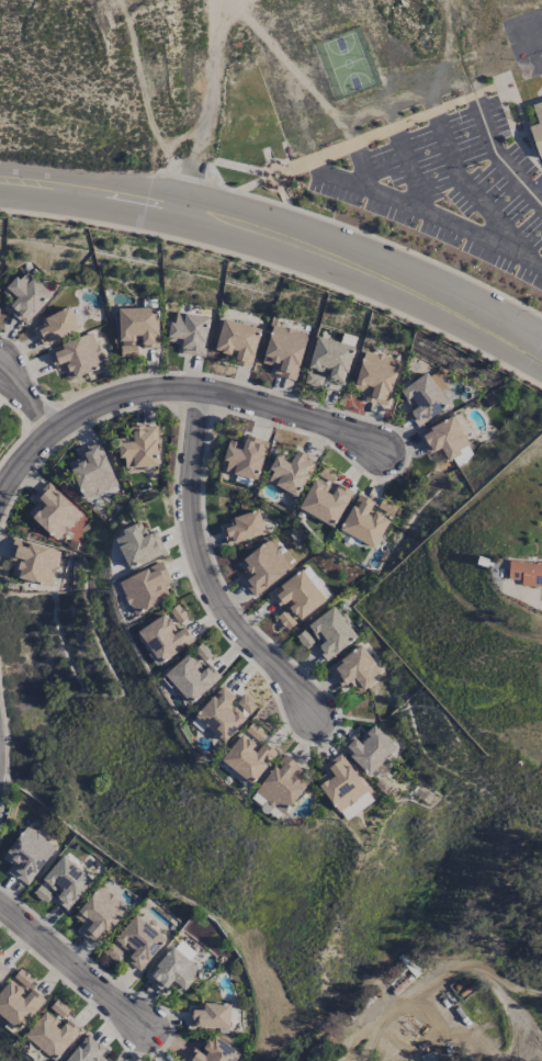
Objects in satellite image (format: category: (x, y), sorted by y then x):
road: (211, 105)
building: (538, 128)
road: (504, 161)
road: (413, 178)
road: (475, 197)
road: (437, 221)
road: (282, 236)
building: (26, 296)
building: (139, 325)
building: (57, 326)
building: (190, 334)
building: (238, 341)
building: (285, 351)
building: (77, 357)
building: (331, 359)
building: (376, 376)
building: (313, 380)
road: (174, 391)
road: (26, 395)
building: (424, 399)
building: (443, 440)
building: (140, 447)
building: (246, 456)
building: (92, 470)
building: (291, 473)
building: (326, 501)
building: (53, 510)
building: (364, 521)
building: (245, 527)
building: (139, 545)
building: (34, 562)
building: (264, 566)
road: (206, 572)
building: (526, 573)
building: (146, 588)
building: (298, 595)
road: (541, 605)
building: (178, 614)
building: (286, 620)
building: (332, 633)
building: (165, 637)
building: (304, 640)
building: (355, 668)
building: (192, 677)
building: (247, 704)
building: (221, 714)
building: (370, 749)
building: (248, 757)
building: (340, 782)
building: (283, 783)
building: (29, 855)
building: (65, 882)
building: (99, 914)
building: (138, 941)
building: (114, 953)
road: (75, 963)
building: (2, 970)
road: (449, 970)
building: (172, 971)
building: (19, 1000)
building: (211, 1016)
building: (52, 1036)
building: (88, 1050)
building: (214, 1052)

